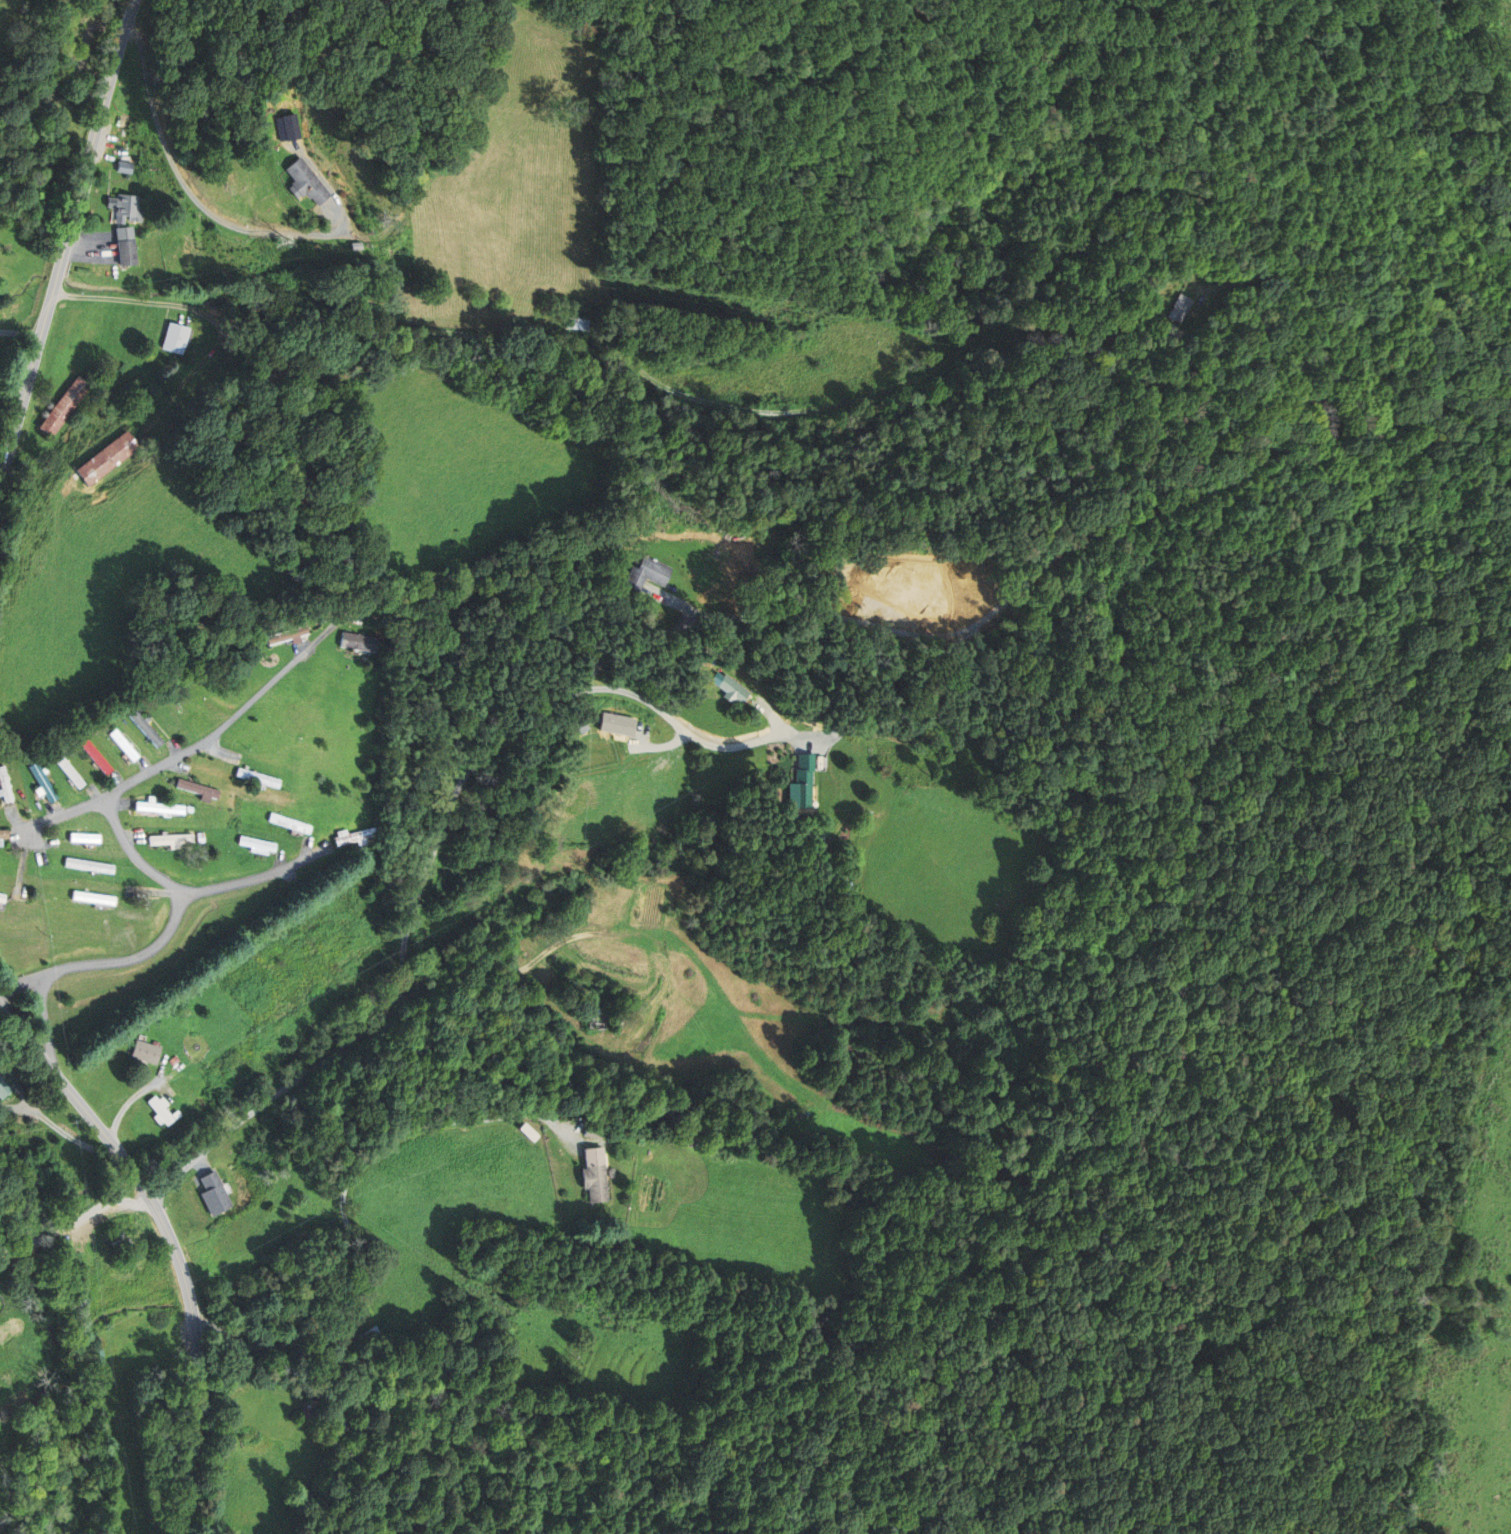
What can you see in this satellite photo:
building: (123, 140)
building: (305, 181)
road: (184, 185)
building: (125, 208)
road: (67, 241)
building: (124, 246)
road: (117, 299)
building: (1184, 307)
building: (576, 324)
road: (22, 331)
building: (173, 338)
building: (63, 407)
building: (108, 458)
building: (644, 573)
building: (356, 642)
building: (725, 689)
building: (617, 723)
building: (142, 729)
building: (119, 746)
road: (656, 747)
building: (89, 754)
road: (169, 761)
building: (64, 771)
building: (255, 778)
building: (40, 783)
building: (801, 783)
building: (193, 790)
building: (156, 809)
building: (287, 824)
building: (2, 837)
building: (355, 837)
building: (81, 839)
building: (166, 841)
road: (133, 853)
building: (86, 866)
road: (427, 867)
road: (223, 884)
building: (90, 899)
road: (102, 962)
building: (596, 1023)
building: (144, 1052)
building: (7, 1083)
building: (161, 1112)
building: (593, 1132)
building: (594, 1184)
building: (214, 1193)
road: (347, 1218)
building: (121, 1237)
road: (173, 1242)
building: (141, 1362)
building: (309, 1409)

